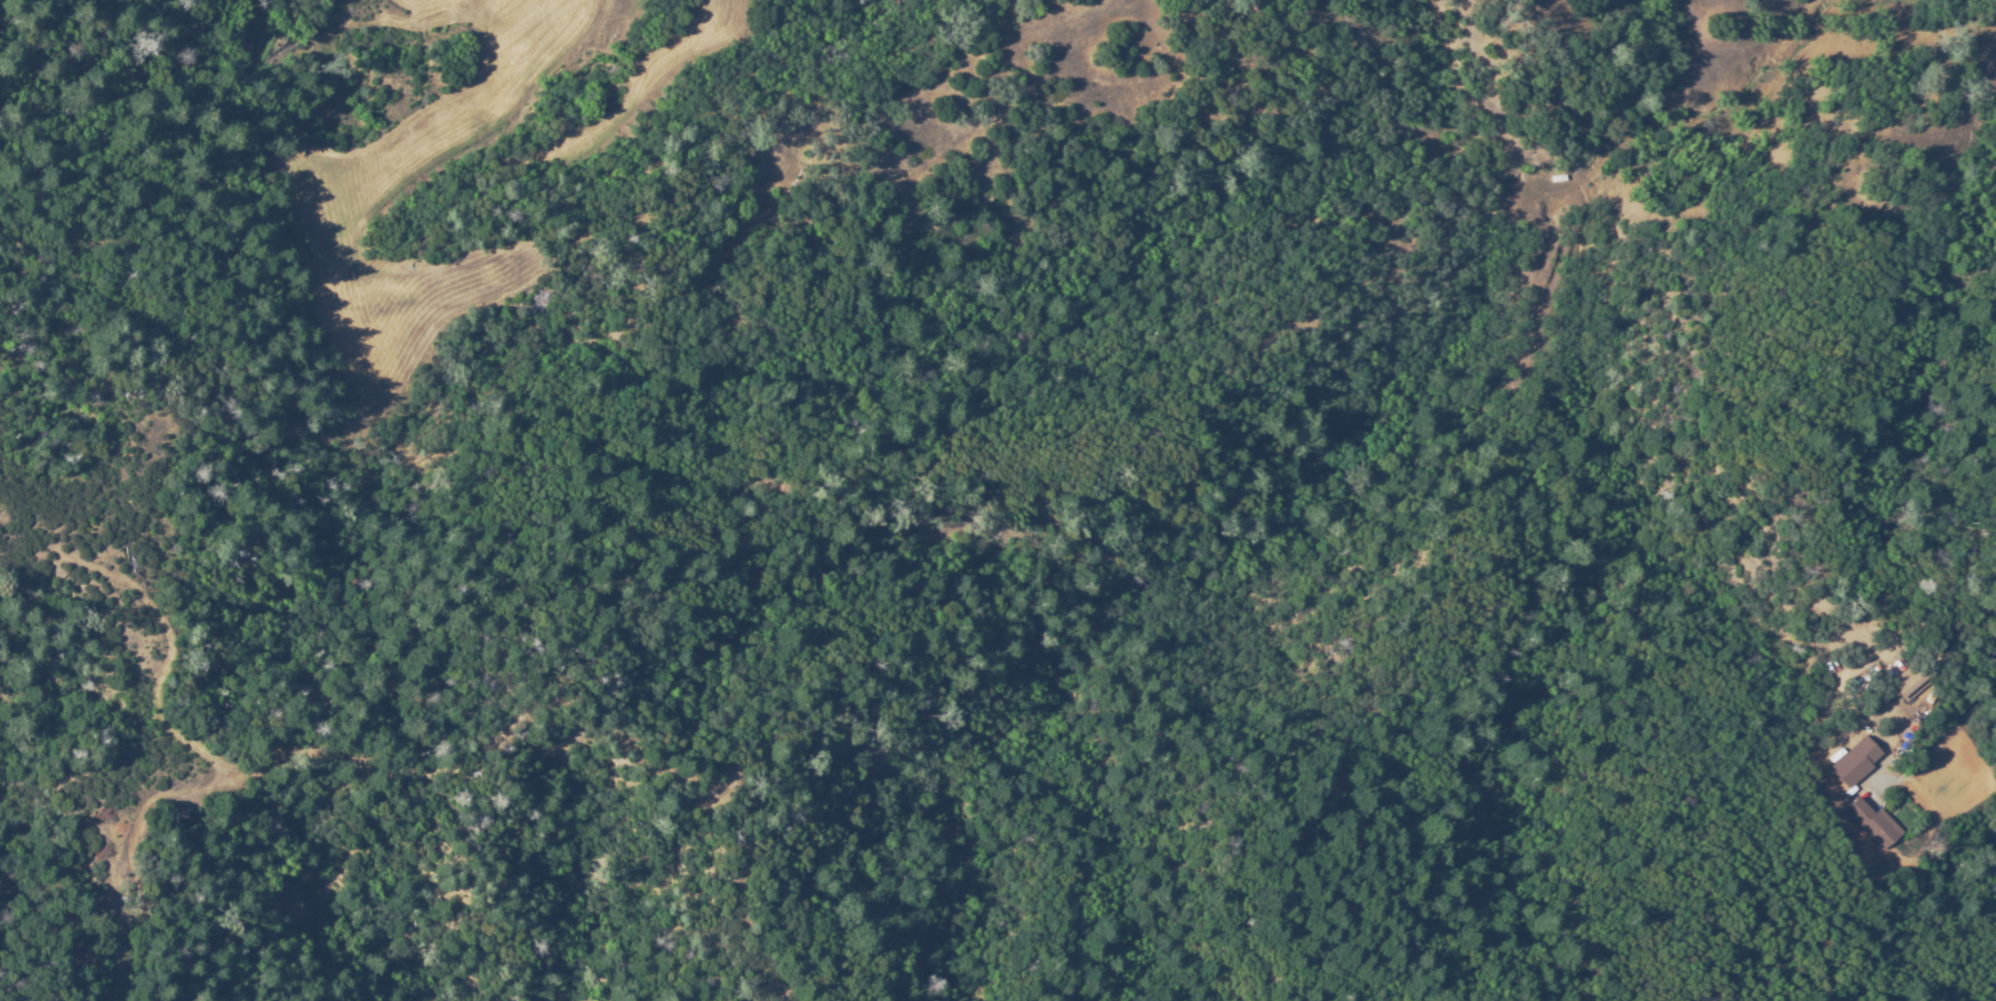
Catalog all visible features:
building: (1558, 177)
building: (1906, 683)
building: (1849, 768)
building: (1872, 823)

